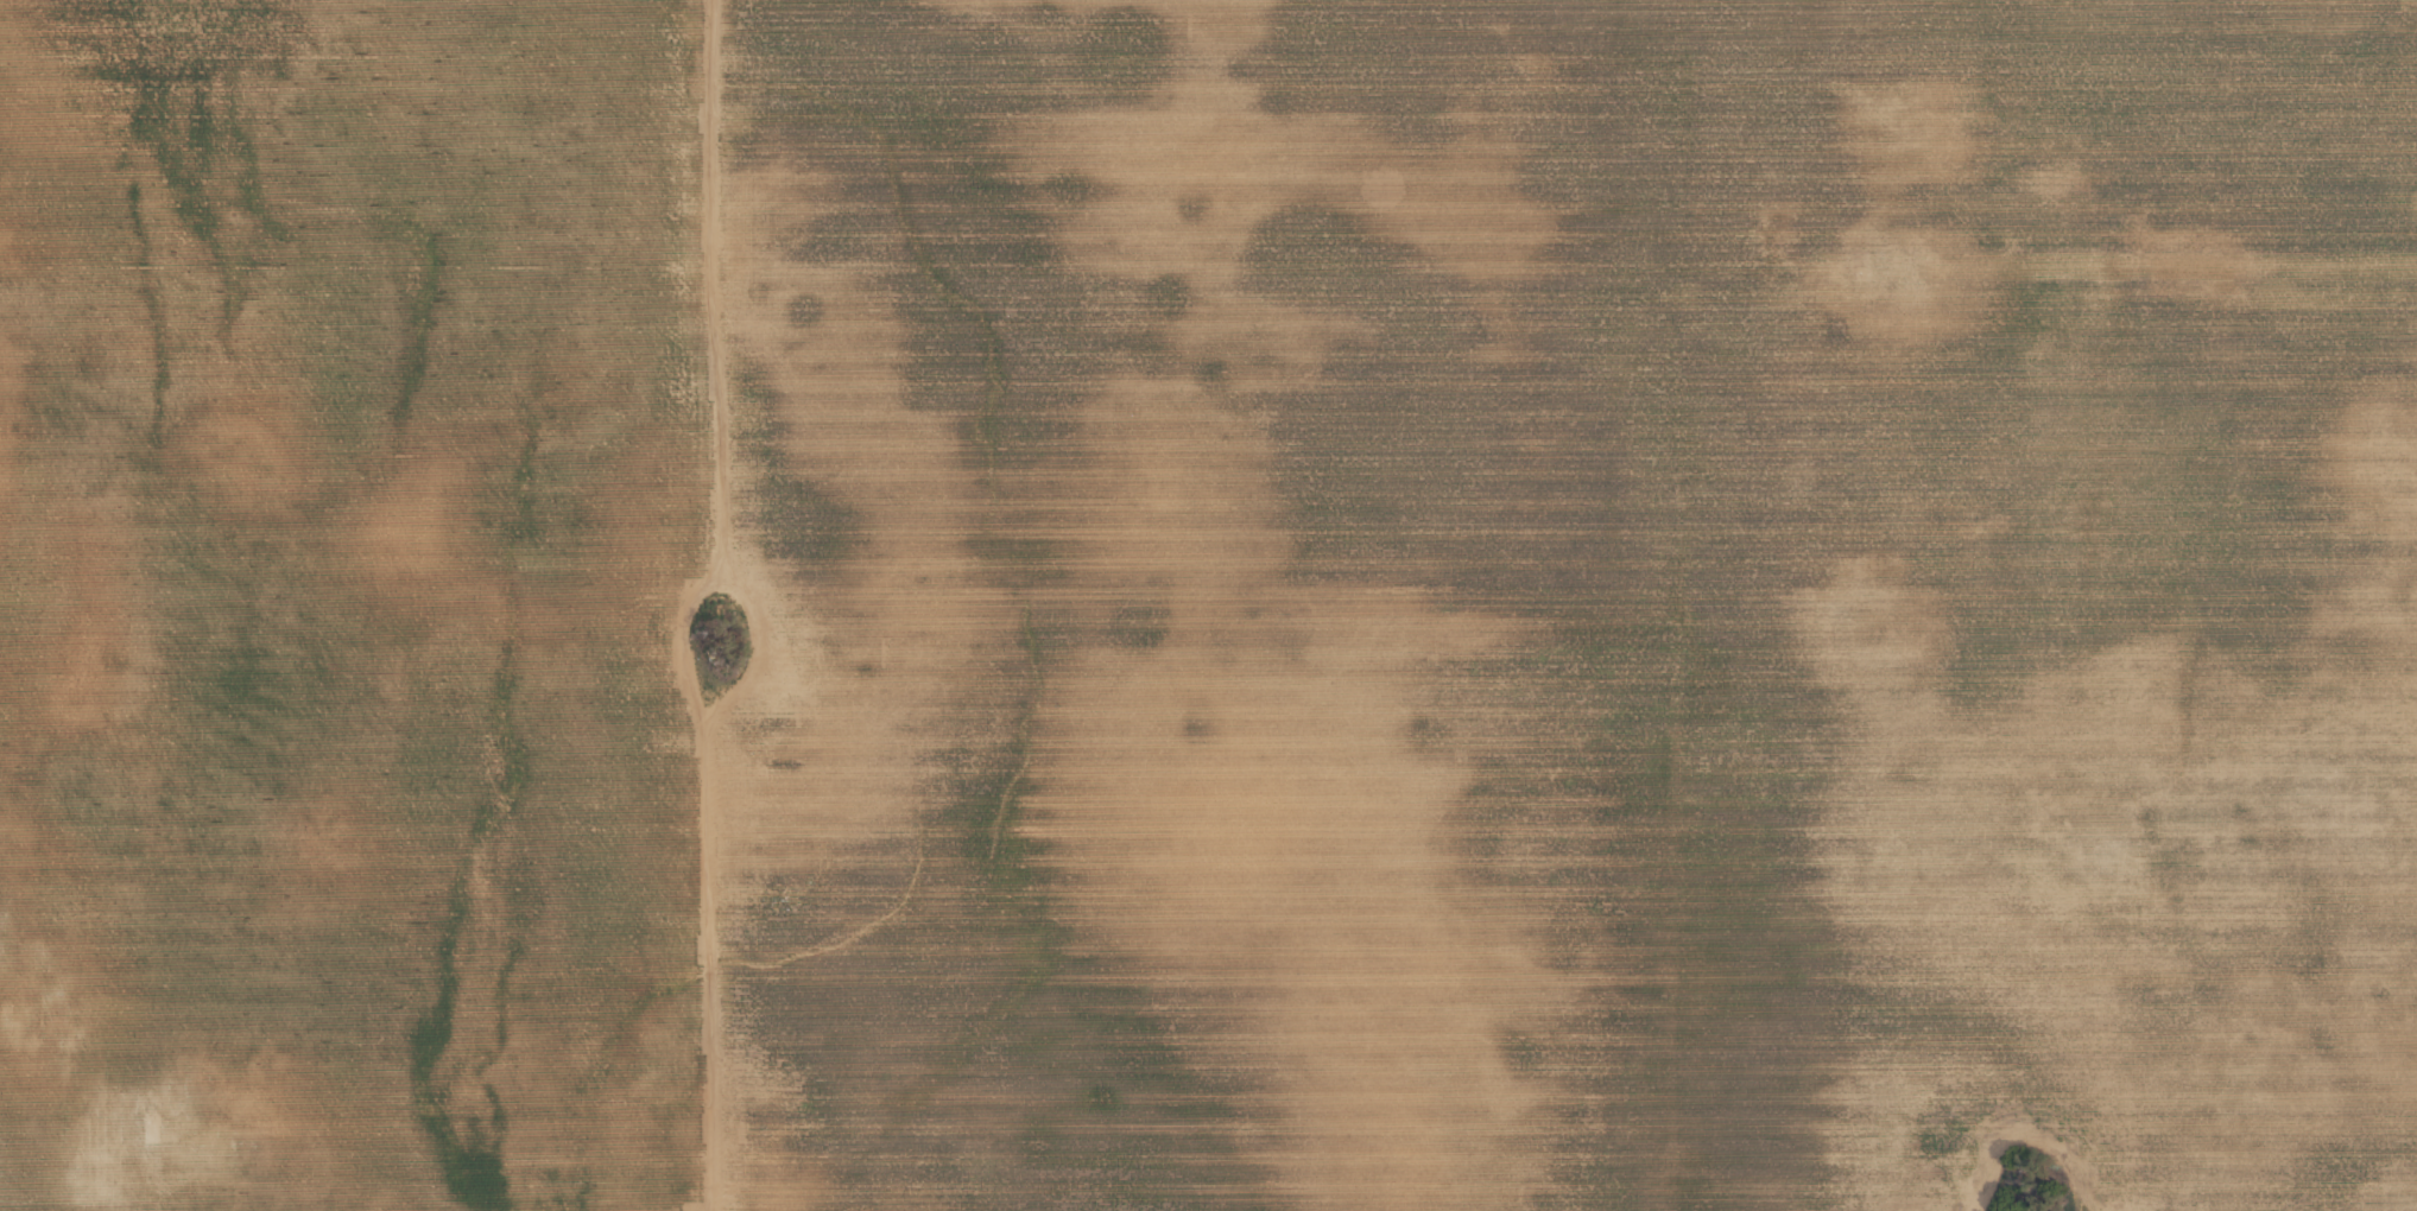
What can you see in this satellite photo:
road: (738, 605)

